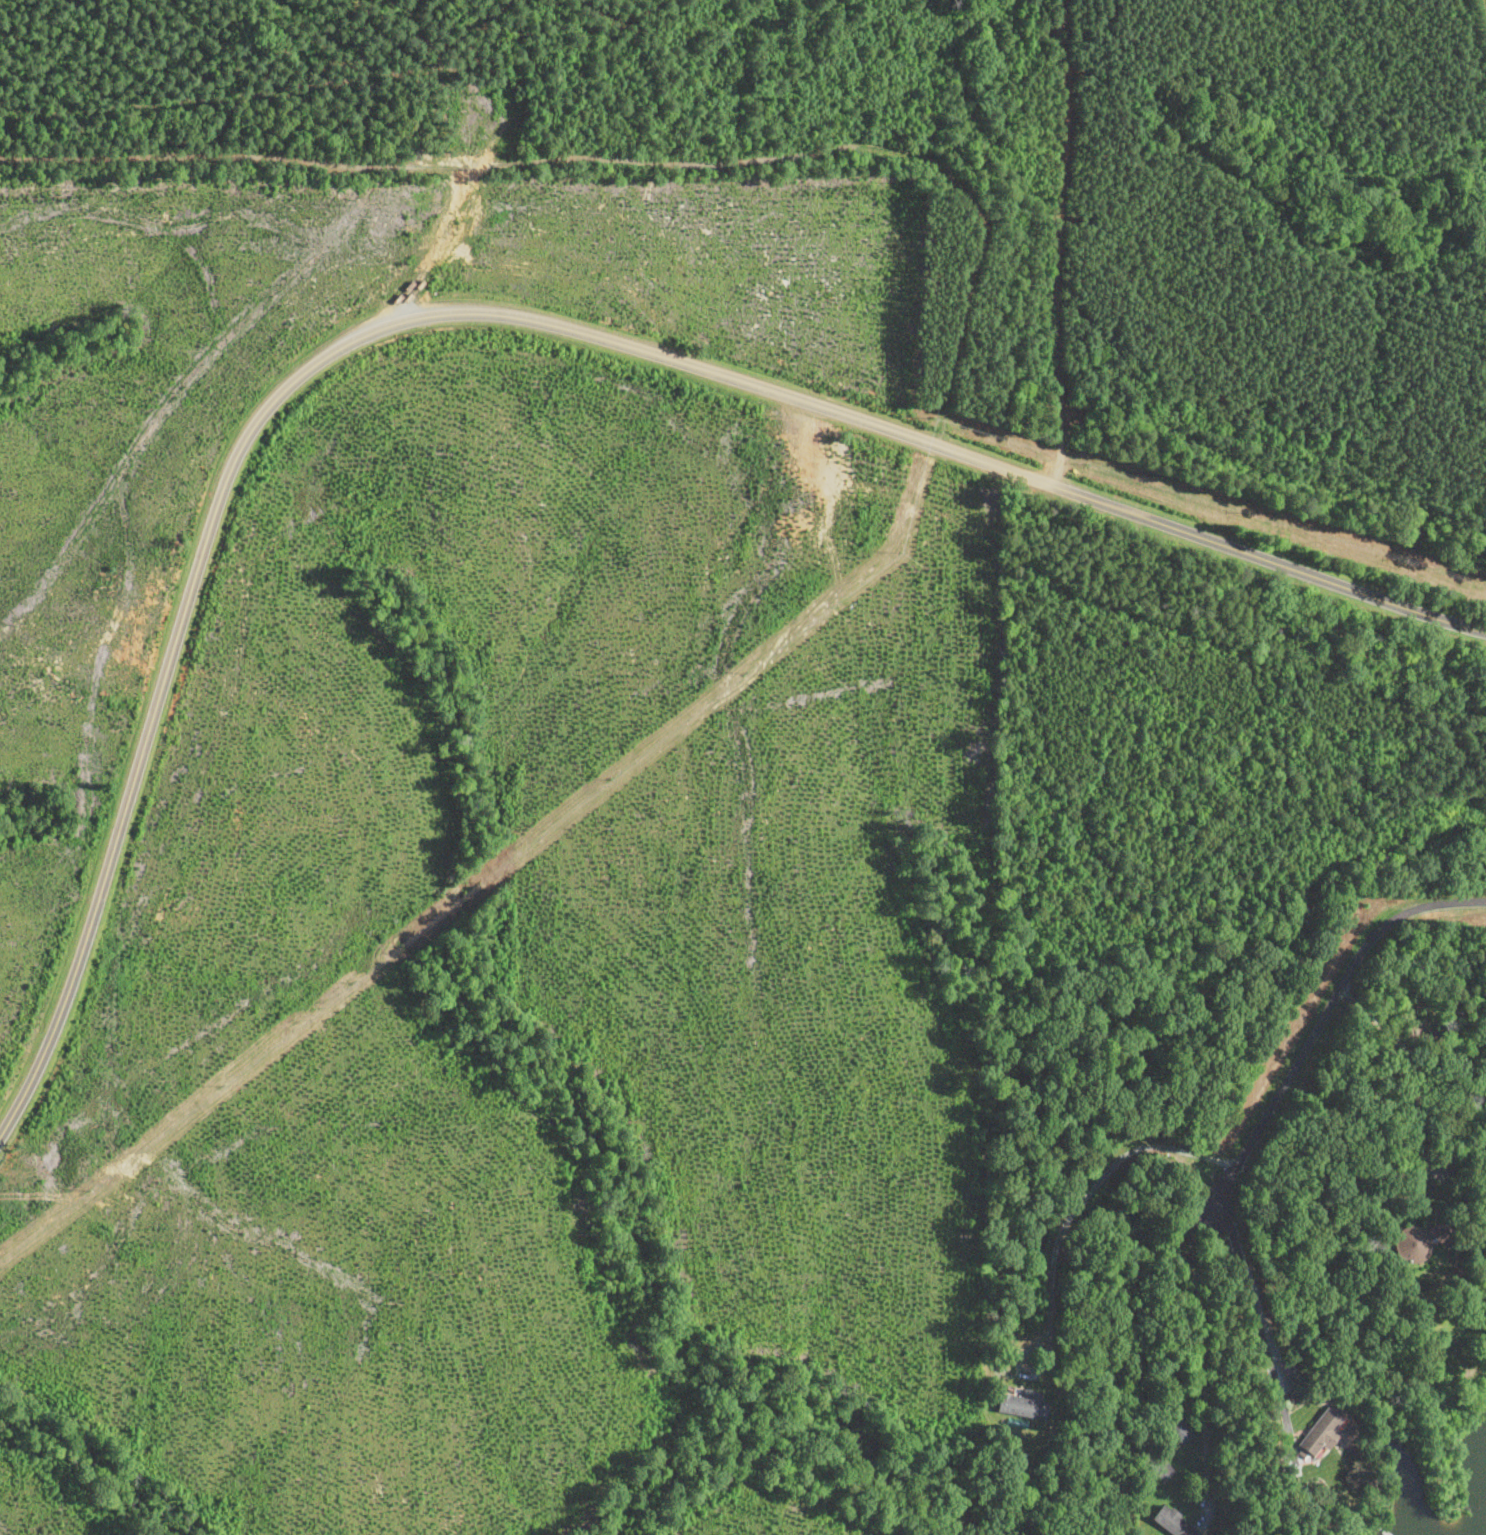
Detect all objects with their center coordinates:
road: (494, 314)
road: (1325, 1016)
road: (1422, 1081)
building: (1026, 1405)
building: (1181, 1431)
building: (1323, 1432)
building: (1175, 1522)

